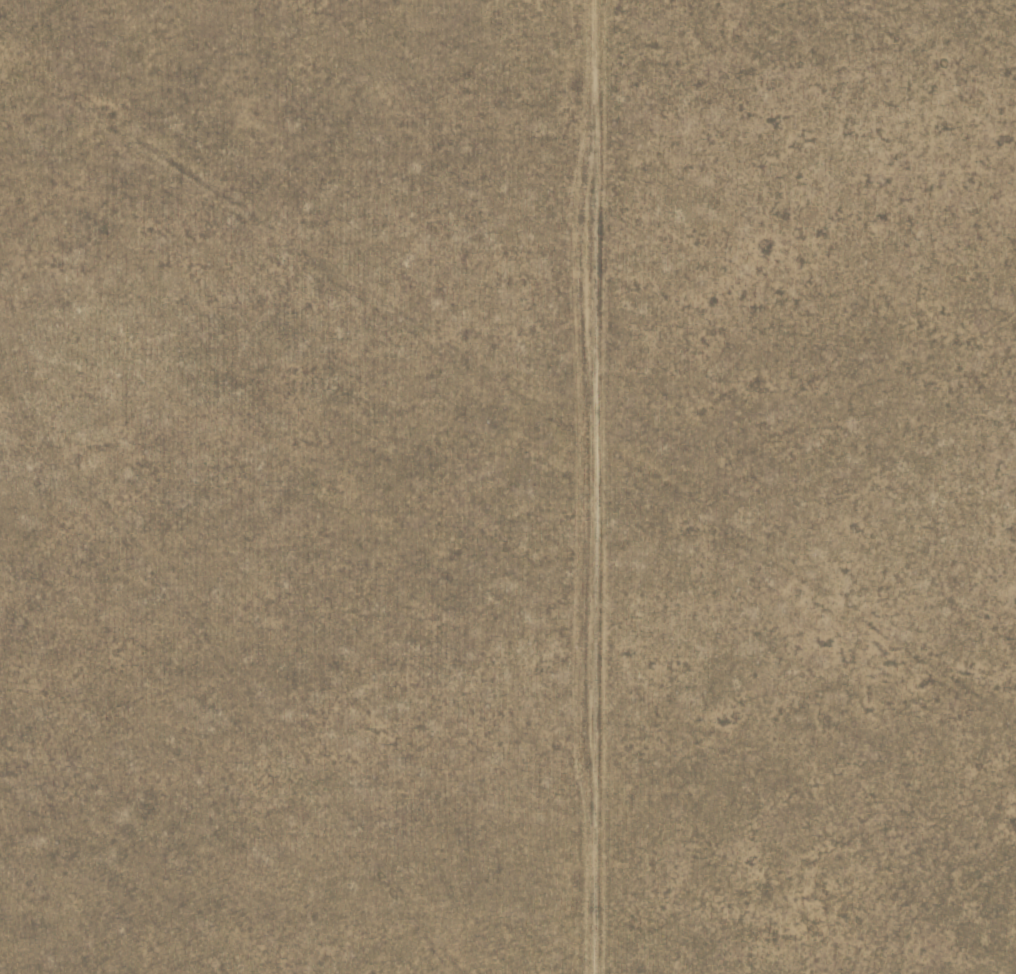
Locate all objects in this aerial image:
airport: (802, 487)

